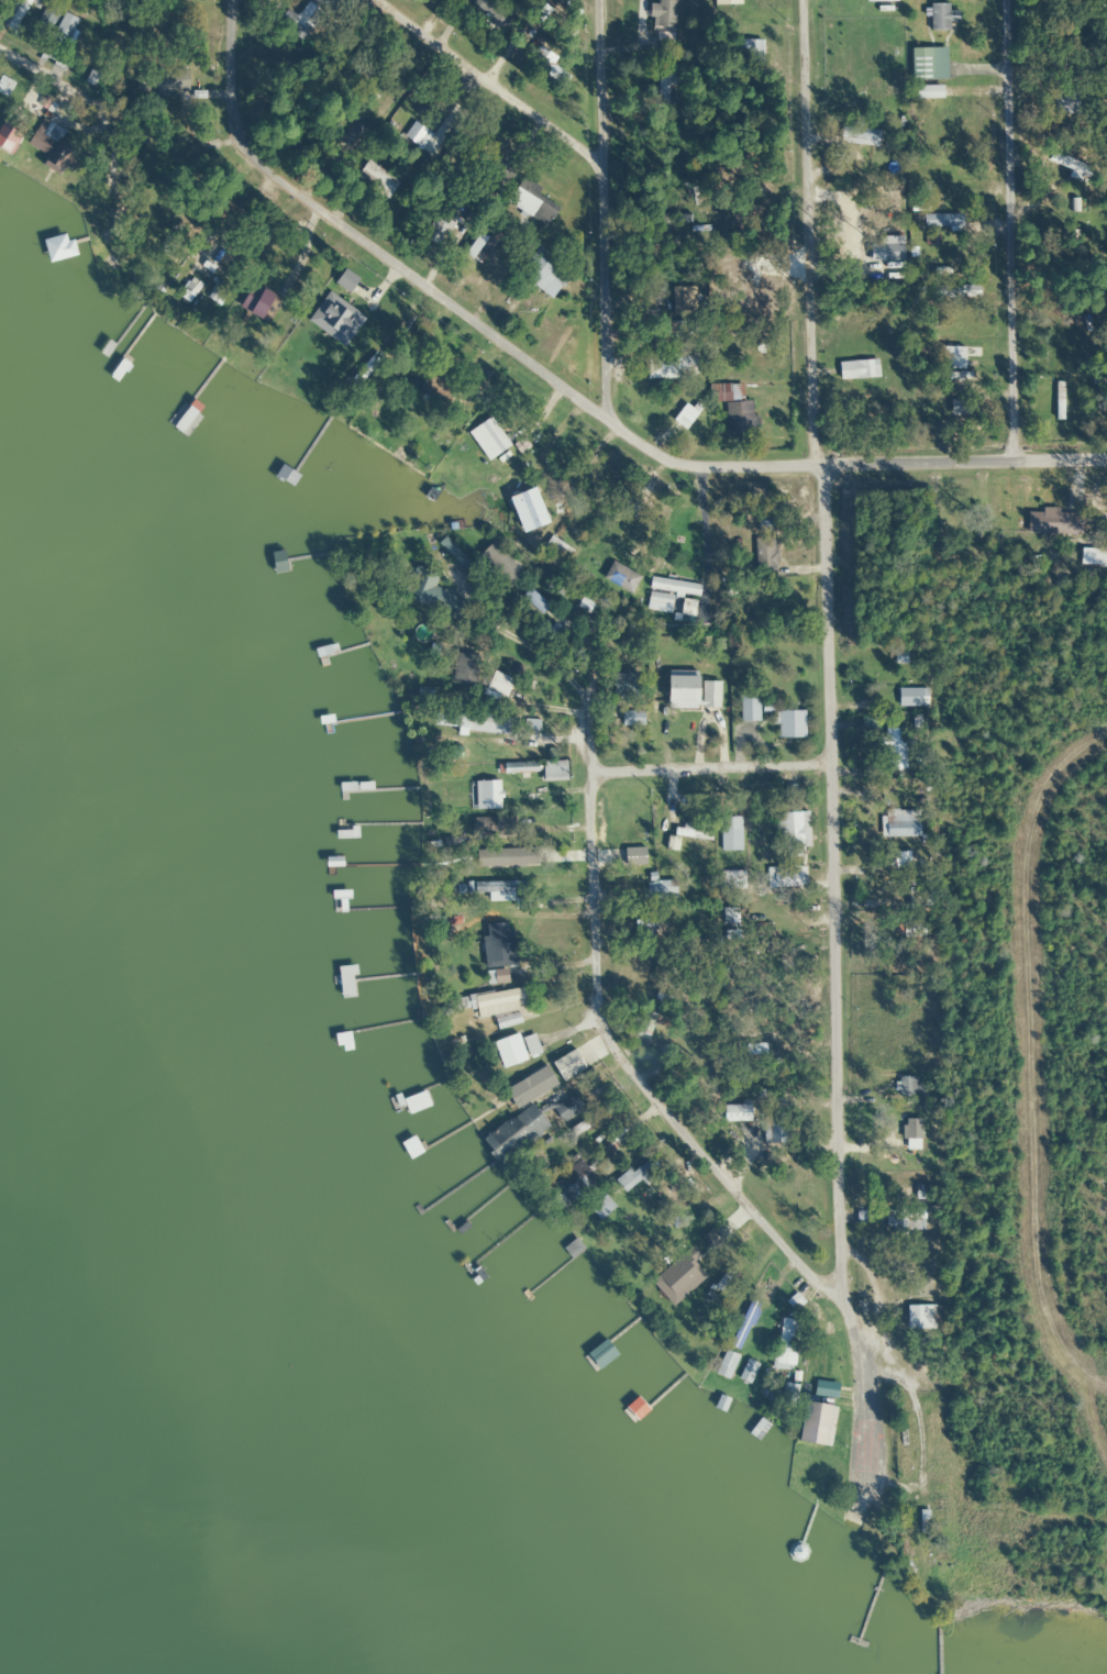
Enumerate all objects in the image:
building: (879, 0)
building: (489, 11)
building: (15, 12)
building: (664, 13)
building: (47, 15)
building: (938, 16)
building: (305, 19)
building: (59, 38)
road: (40, 52)
road: (483, 63)
building: (927, 64)
building: (160, 84)
building: (663, 85)
building: (4, 86)
building: (1064, 102)
building: (9, 133)
building: (348, 134)
building: (430, 134)
building: (857, 135)
road: (101, 149)
building: (51, 152)
building: (499, 170)
building: (375, 181)
building: (530, 201)
road: (970, 211)
road: (812, 213)
building: (940, 221)
road: (587, 225)
building: (438, 230)
building: (465, 251)
building: (102, 253)
building: (543, 274)
building: (255, 302)
building: (671, 366)
building: (860, 369)
building: (438, 387)
building: (472, 393)
building: (868, 395)
building: (1059, 401)
road: (561, 402)
building: (961, 408)
building: (690, 410)
building: (739, 418)
building: (498, 442)
building: (525, 510)
building: (1051, 524)
building: (555, 550)
building: (764, 557)
building: (621, 578)
building: (419, 587)
building: (673, 587)
building: (533, 601)
building: (688, 608)
building: (618, 645)
building: (463, 669)
building: (623, 686)
building: (680, 690)
building: (709, 696)
building: (911, 698)
building: (748, 709)
building: (446, 720)
building: (631, 720)
building: (489, 723)
road: (704, 723)
building: (789, 724)
building: (530, 725)
building: (894, 749)
building: (519, 771)
building: (553, 772)
building: (488, 796)
building: (900, 823)
building: (793, 830)
building: (490, 833)
building: (729, 833)
road: (824, 834)
building: (636, 856)
building: (490, 857)
building: (689, 857)
building: (783, 876)
building: (730, 879)
building: (660, 889)
building: (497, 890)
building: (917, 898)
building: (729, 917)
building: (652, 927)
building: (495, 942)
building: (478, 977)
building: (344, 982)
building: (664, 997)
road: (583, 1018)
building: (507, 1021)
building: (514, 1049)
building: (909, 1086)
building: (529, 1087)
building: (416, 1102)
building: (734, 1112)
building: (525, 1128)
building: (774, 1129)
building: (915, 1134)
building: (410, 1148)
building: (638, 1174)
building: (574, 1185)
building: (600, 1208)
building: (904, 1221)
building: (696, 1251)
road: (966, 1298)
building: (918, 1317)
building: (743, 1324)
building: (786, 1341)
road: (897, 1343)
building: (600, 1355)
building: (726, 1365)
building: (746, 1372)
building: (787, 1394)
building: (635, 1410)
building: (815, 1424)
road: (1061, 1454)

